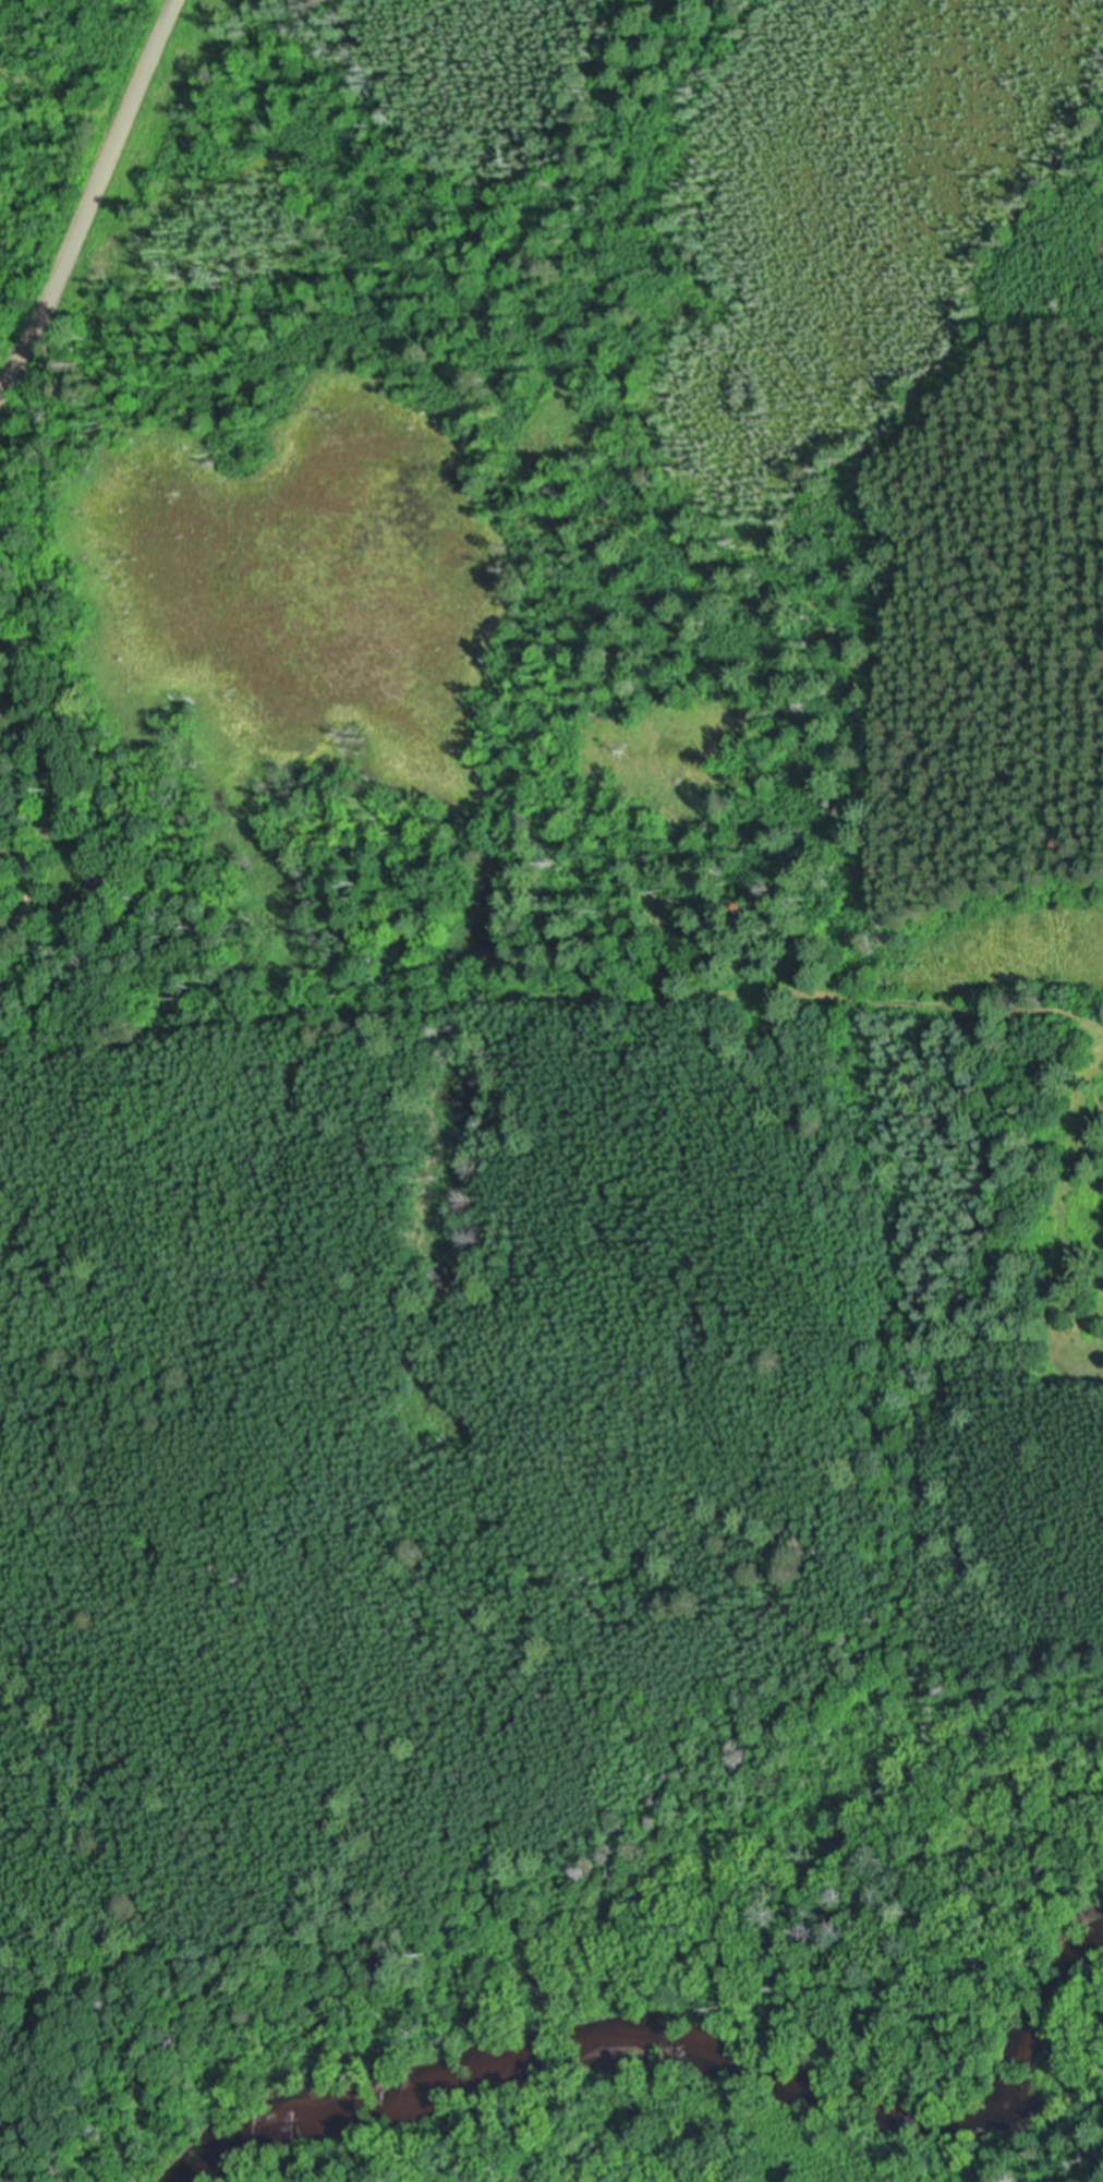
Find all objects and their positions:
road: (92, 200)
road: (423, 1004)
river: (704, 2053)

